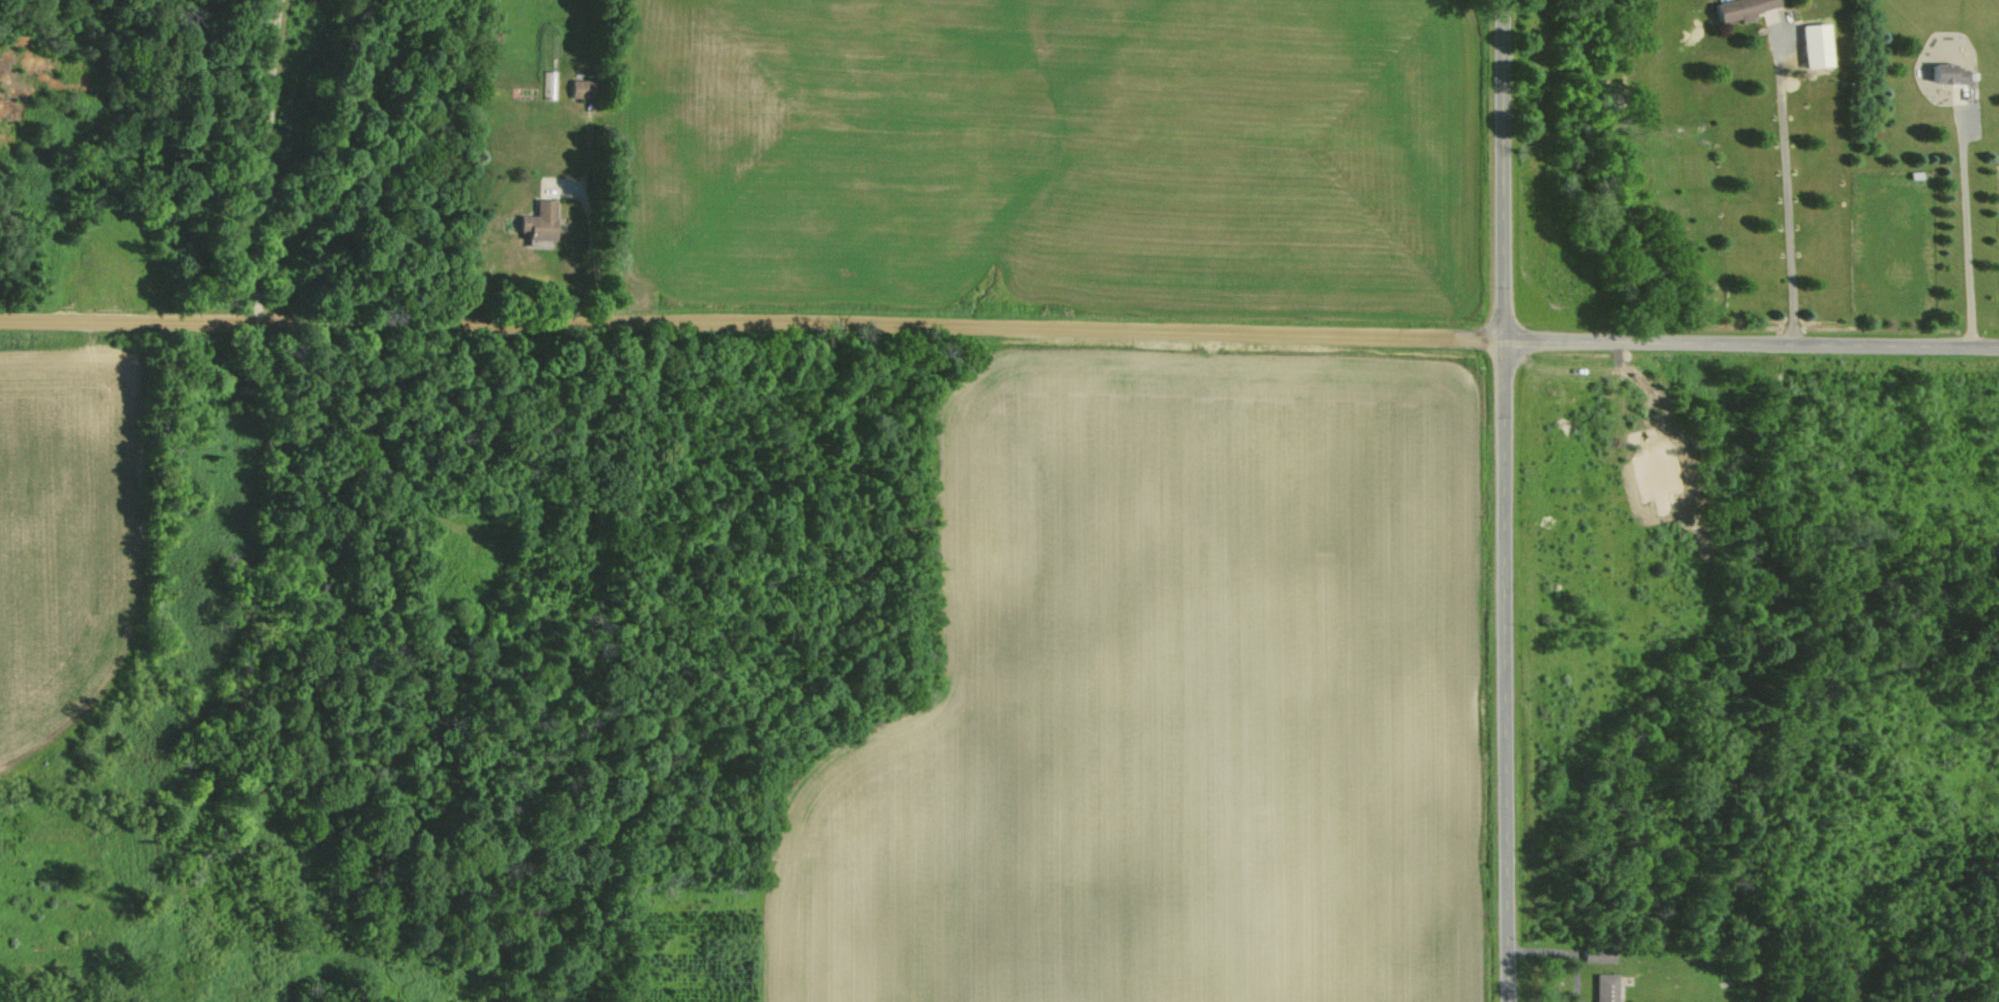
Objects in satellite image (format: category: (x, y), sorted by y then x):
building: (1735, 8)
building: (1811, 45)
building: (1941, 73)
building: (577, 88)
road: (258, 162)
road: (1503, 170)
road: (1784, 192)
road: (1958, 222)
building: (534, 223)
road: (591, 256)
road: (751, 331)
road: (1751, 342)
road: (1505, 671)
road: (1561, 954)
building: (1600, 987)

